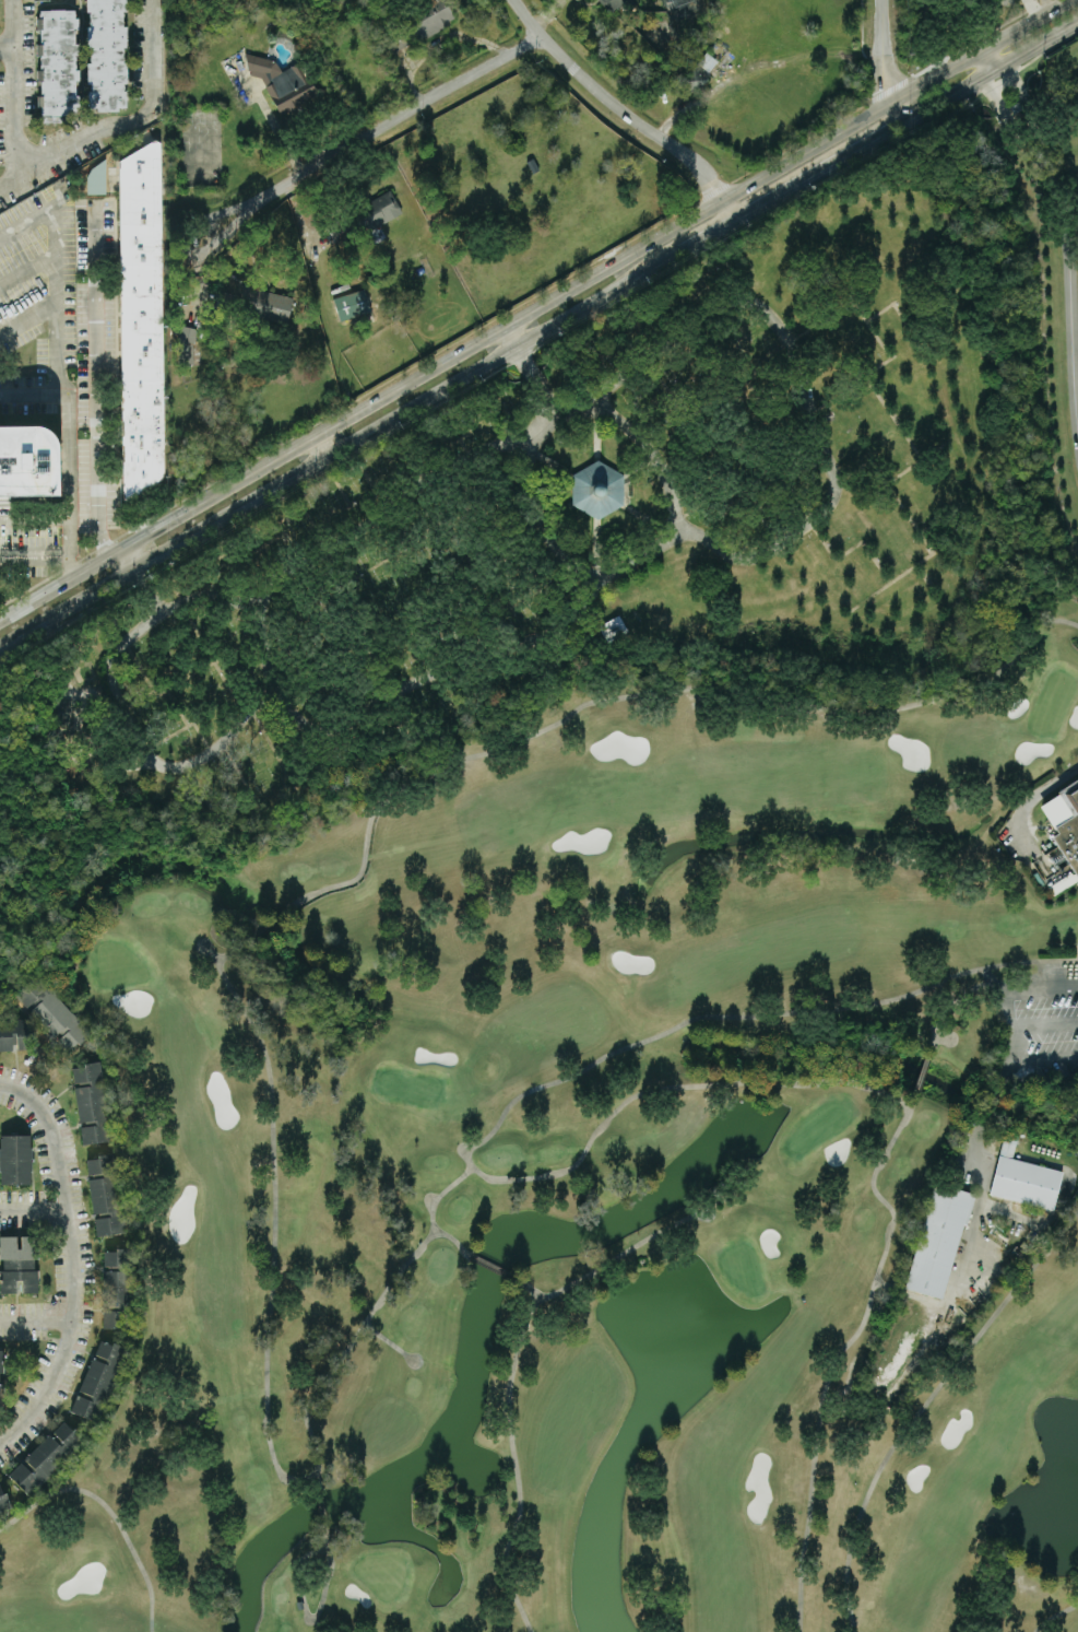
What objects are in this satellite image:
road: (1051, 2)
building: (618, 3)
building: (420, 25)
road: (1035, 44)
road: (5, 47)
road: (437, 47)
building: (106, 55)
building: (57, 61)
road: (886, 62)
building: (698, 72)
building: (282, 83)
road: (1022, 86)
road: (13, 87)
road: (946, 95)
road: (999, 99)
road: (623, 110)
road: (396, 119)
road: (125, 122)
road: (279, 129)
road: (822, 166)
building: (96, 178)
building: (381, 208)
road: (186, 248)
road: (28, 269)
road: (1069, 280)
building: (272, 304)
road: (530, 308)
road: (29, 318)
building: (141, 318)
road: (508, 336)
building: (187, 344)
road: (64, 362)
road: (97, 381)
road: (33, 394)
road: (372, 428)
road: (321, 445)
building: (32, 462)
building: (596, 489)
road: (35, 521)
park: (574, 544)
road: (133, 554)
road: (34, 556)
building: (613, 629)
building: (62, 712)
road: (1021, 808)
building: (1062, 819)
building: (1063, 883)
building: (43, 999)
road: (1010, 1023)
road: (1044, 1025)
building: (16, 1034)
road: (1002, 1078)
building: (91, 1103)
road: (988, 1106)
park: (618, 1151)
building: (15, 1159)
building: (1022, 1177)
road: (980, 1191)
building: (104, 1195)
road: (34, 1209)
building: (937, 1241)
road: (72, 1259)
building: (17, 1264)
building: (117, 1277)
road: (37, 1316)
building: (116, 1318)
building: (0, 1375)
building: (97, 1379)
building: (46, 1457)
building: (3, 1501)
building: (299, 1605)

